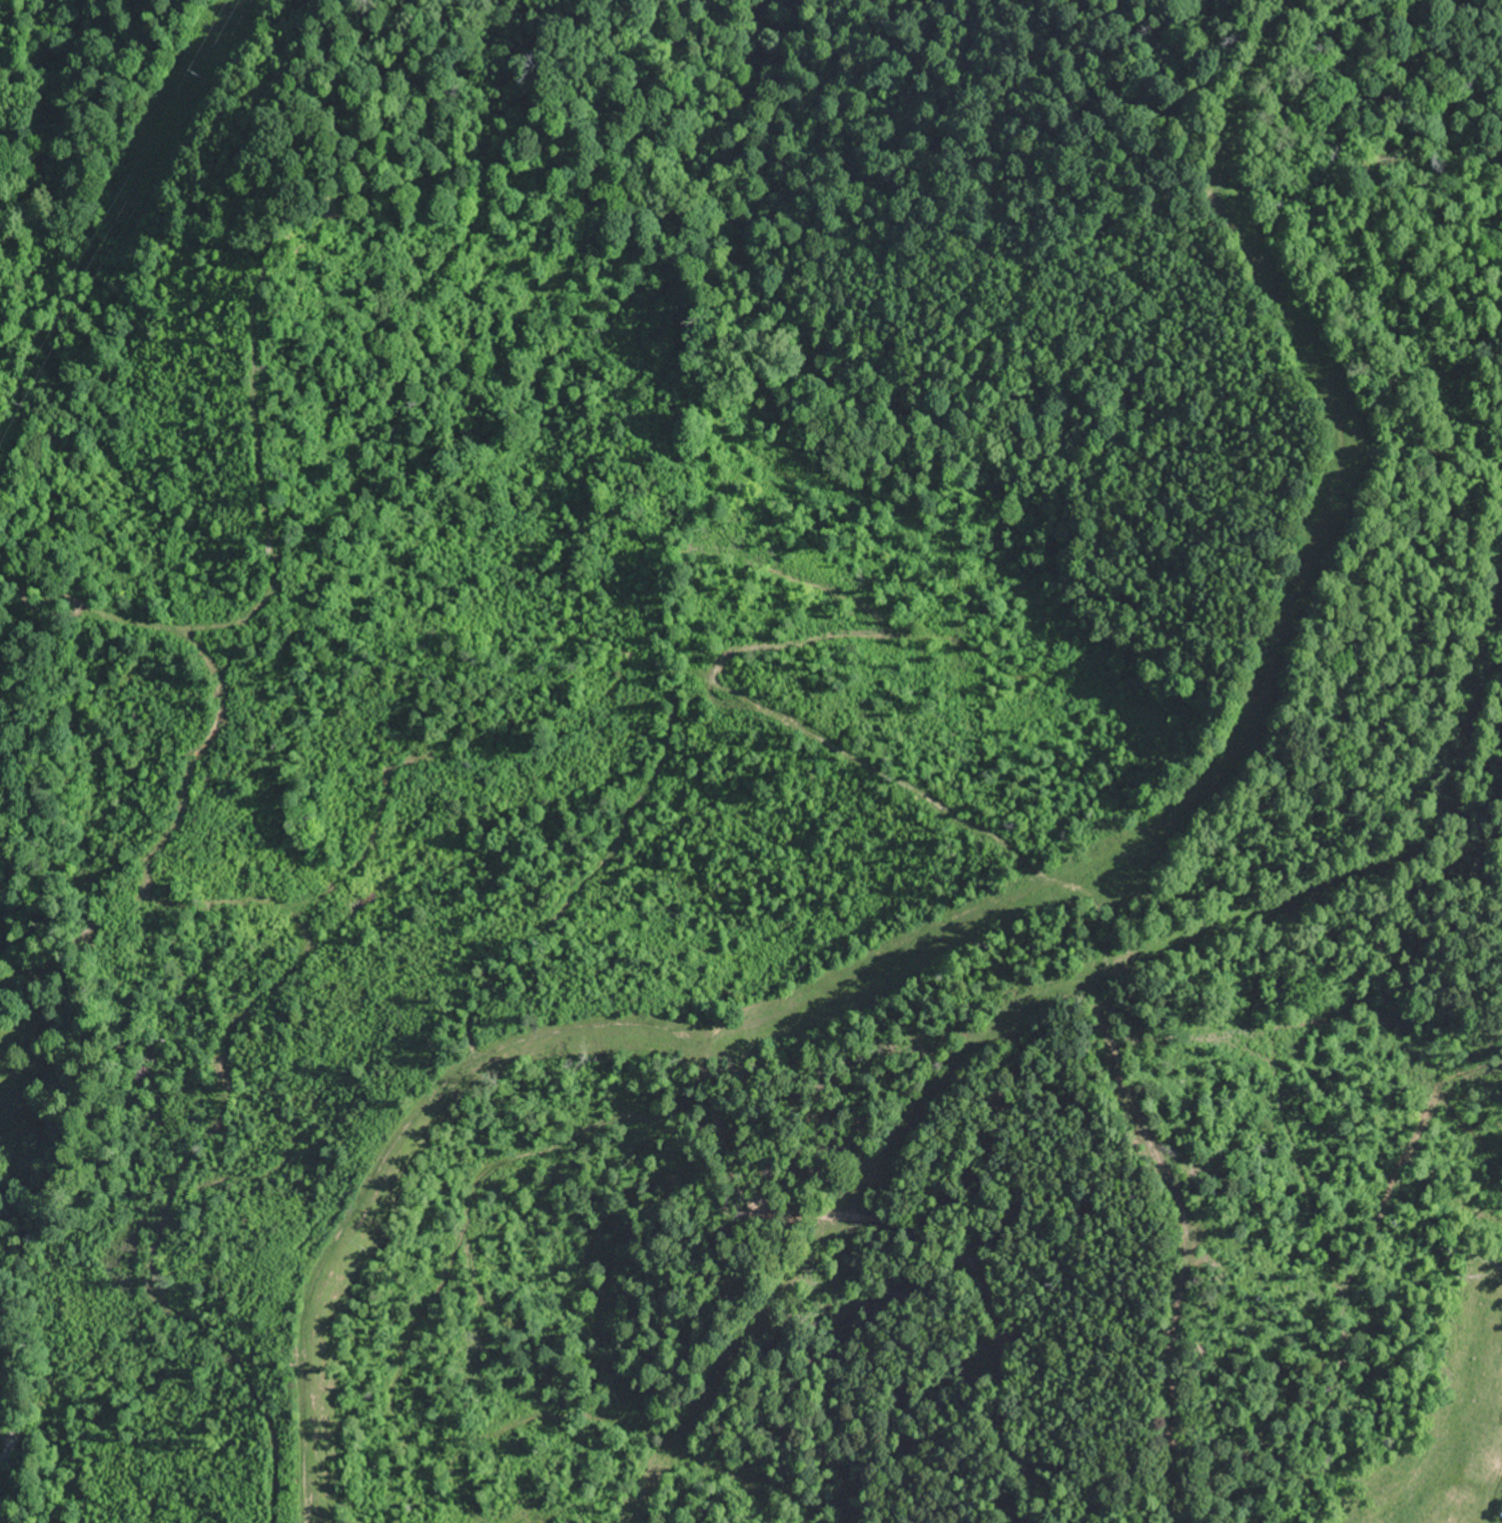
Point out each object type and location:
power tower: (198, 75)

